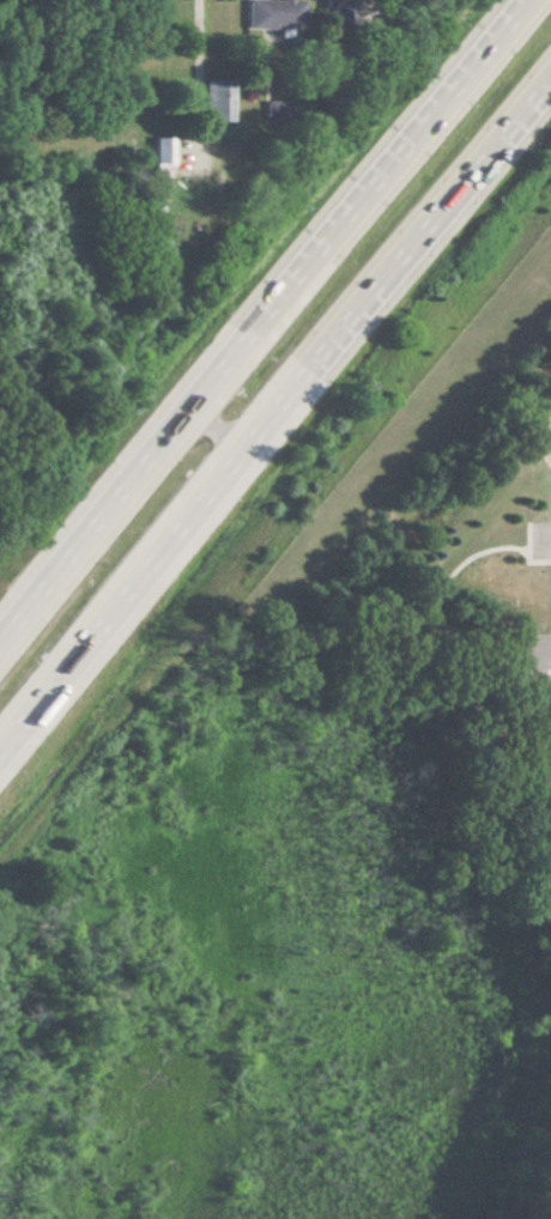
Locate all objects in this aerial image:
building: (275, 13)
road: (201, 46)
building: (218, 99)
building: (162, 150)
road: (268, 325)
road: (274, 417)
parking lot: (539, 535)
road: (523, 551)
road: (435, 606)
parking lot: (539, 647)
road: (523, 663)
park: (371, 733)

